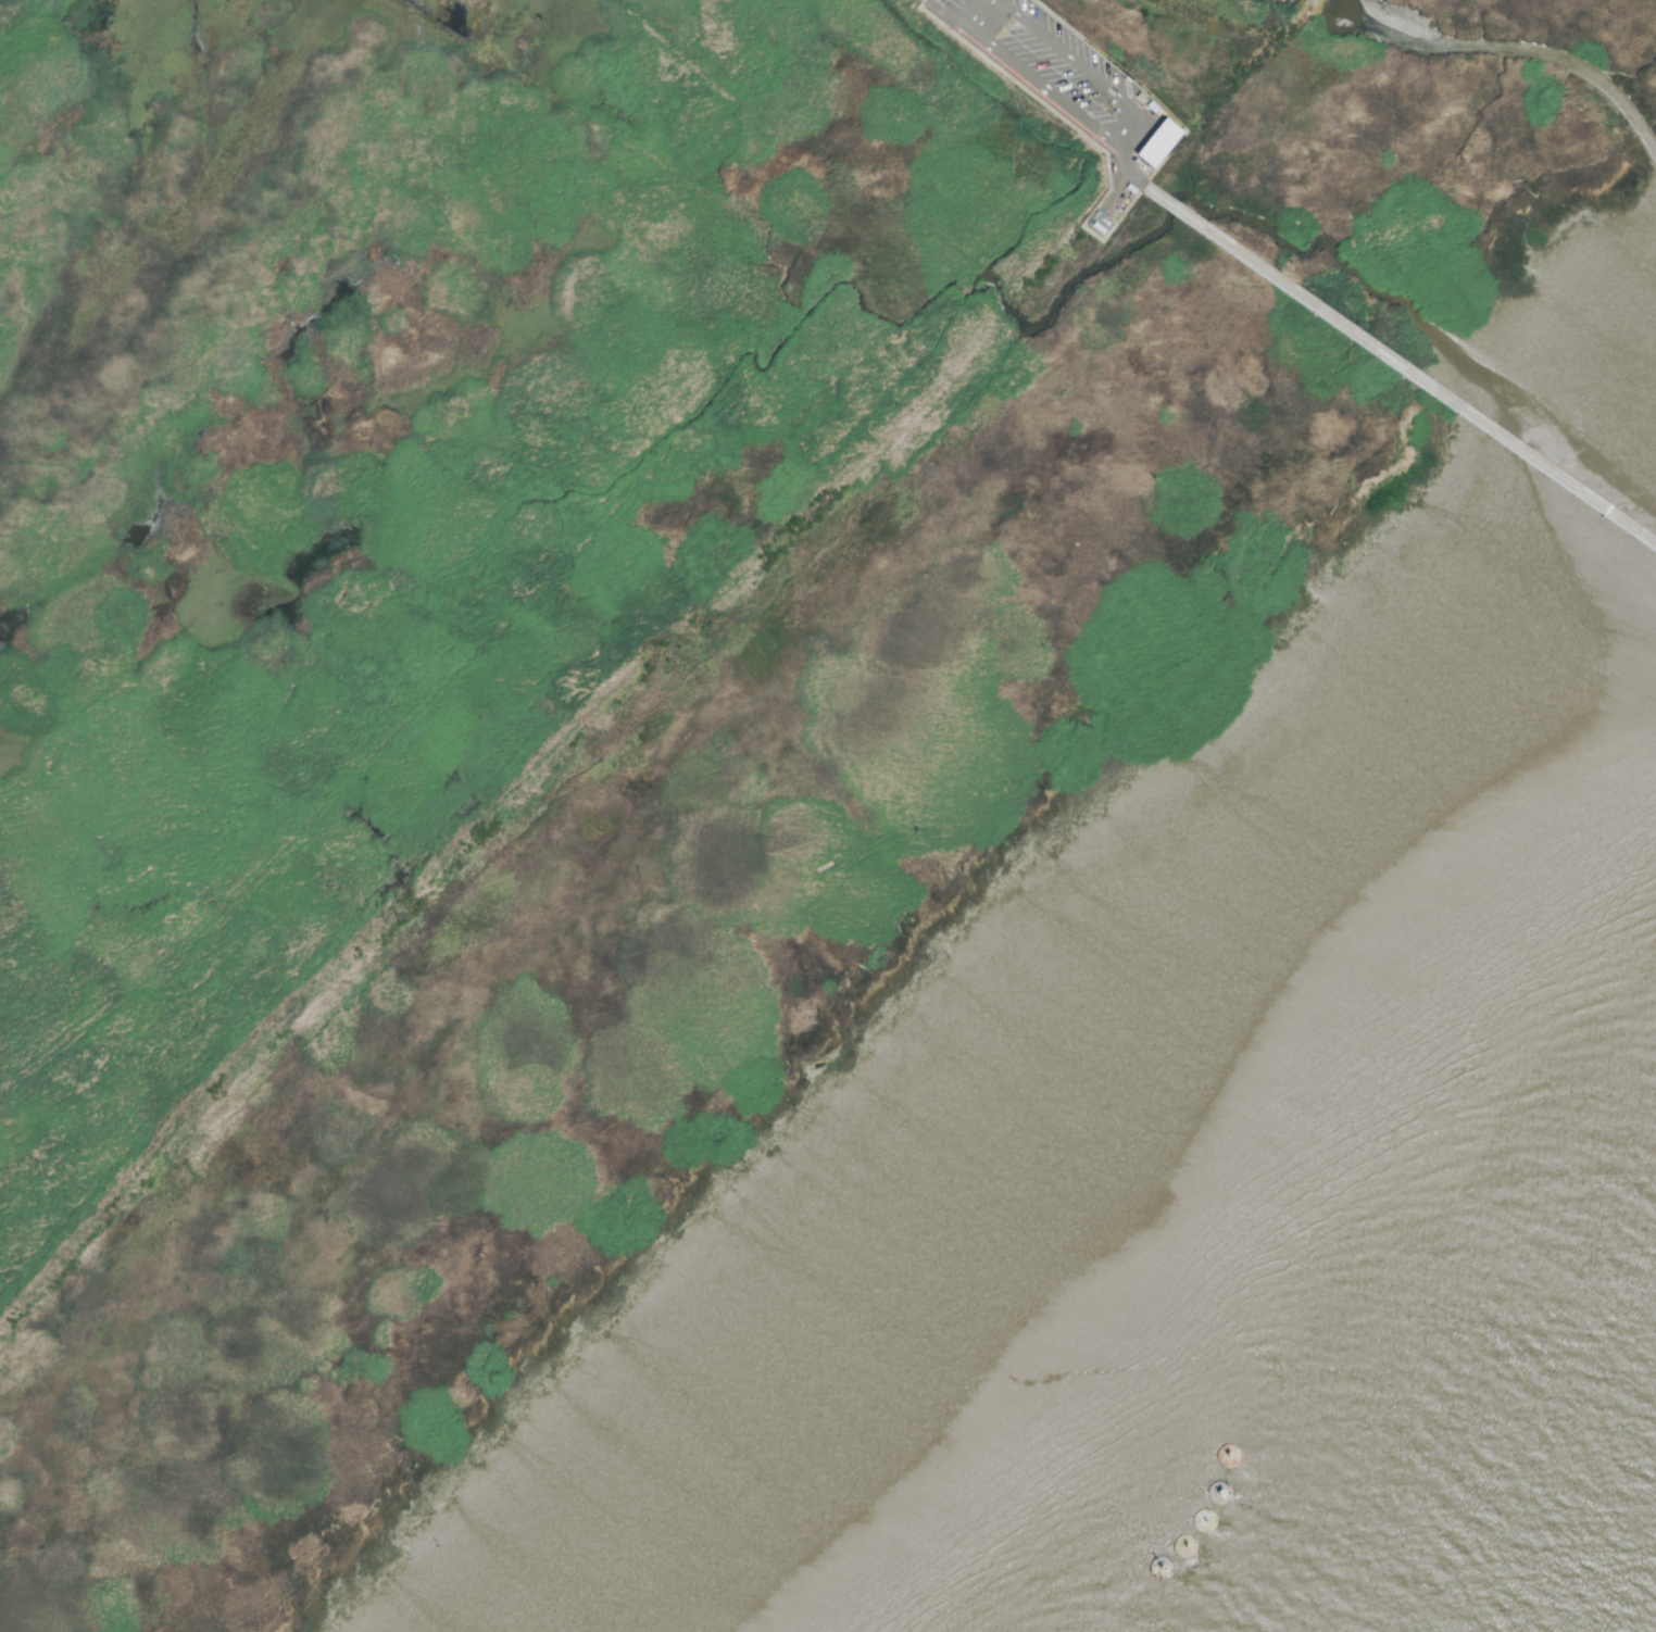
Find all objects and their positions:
road: (1313, 12)
road: (1066, 53)
parking lot: (1049, 59)
road: (1040, 88)
building: (1156, 139)
building: (1099, 219)
pier: (1402, 364)

